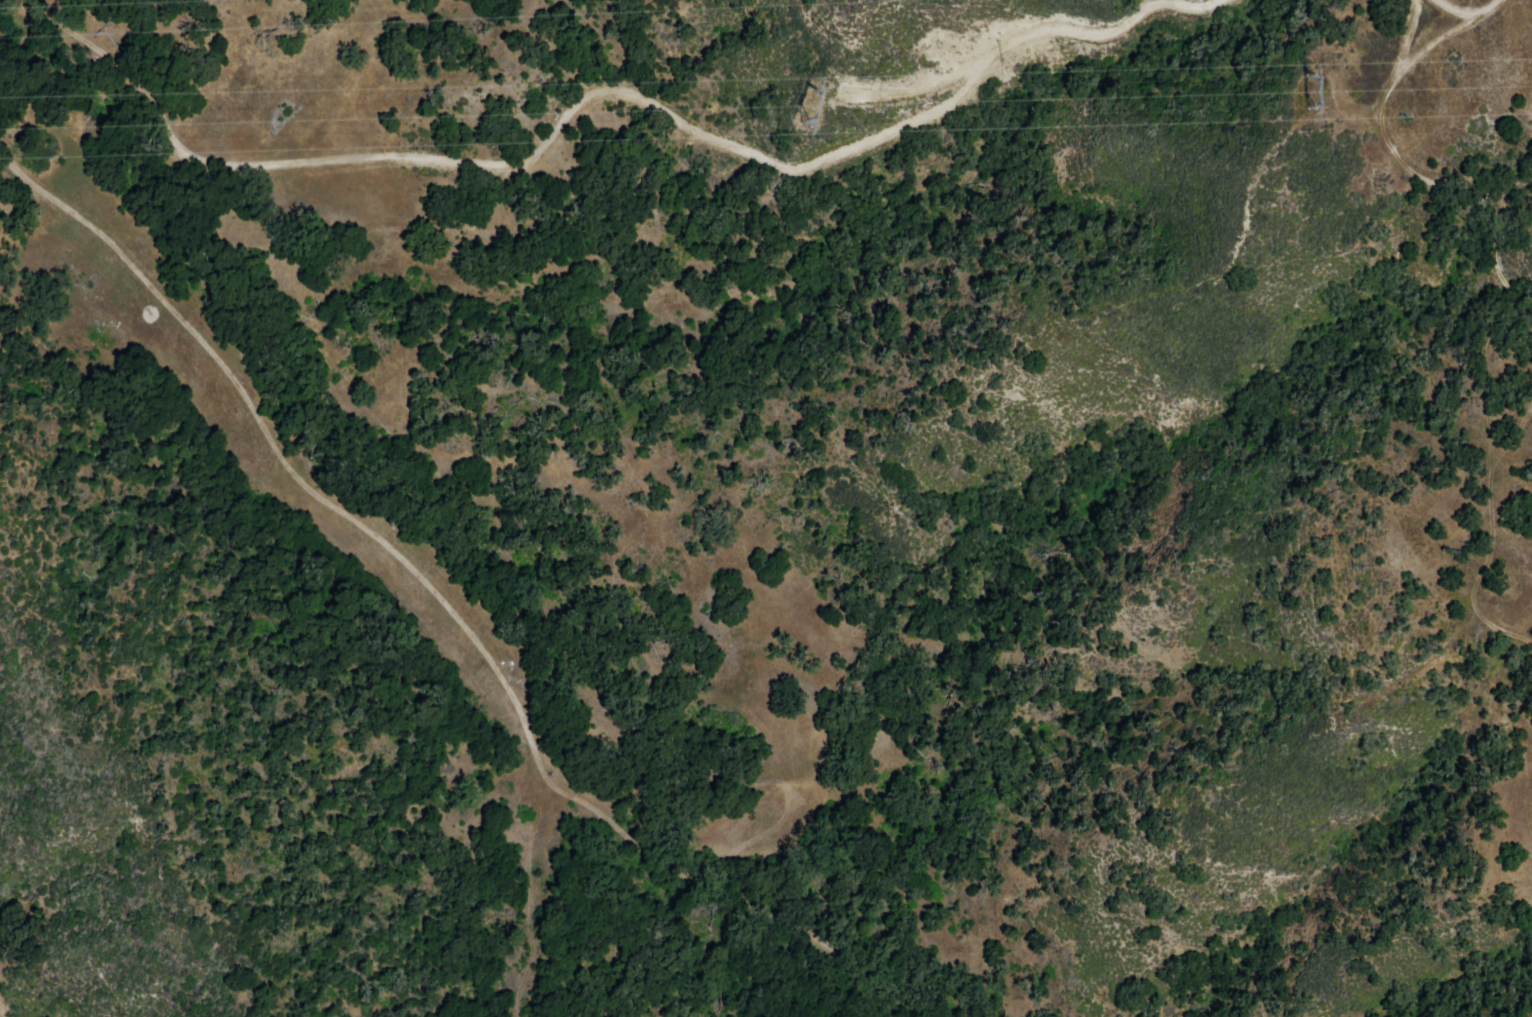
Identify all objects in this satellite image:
road: (1471, 8)
road: (1049, 28)
power tower: (1311, 74)
power tower: (814, 97)
road: (439, 596)

